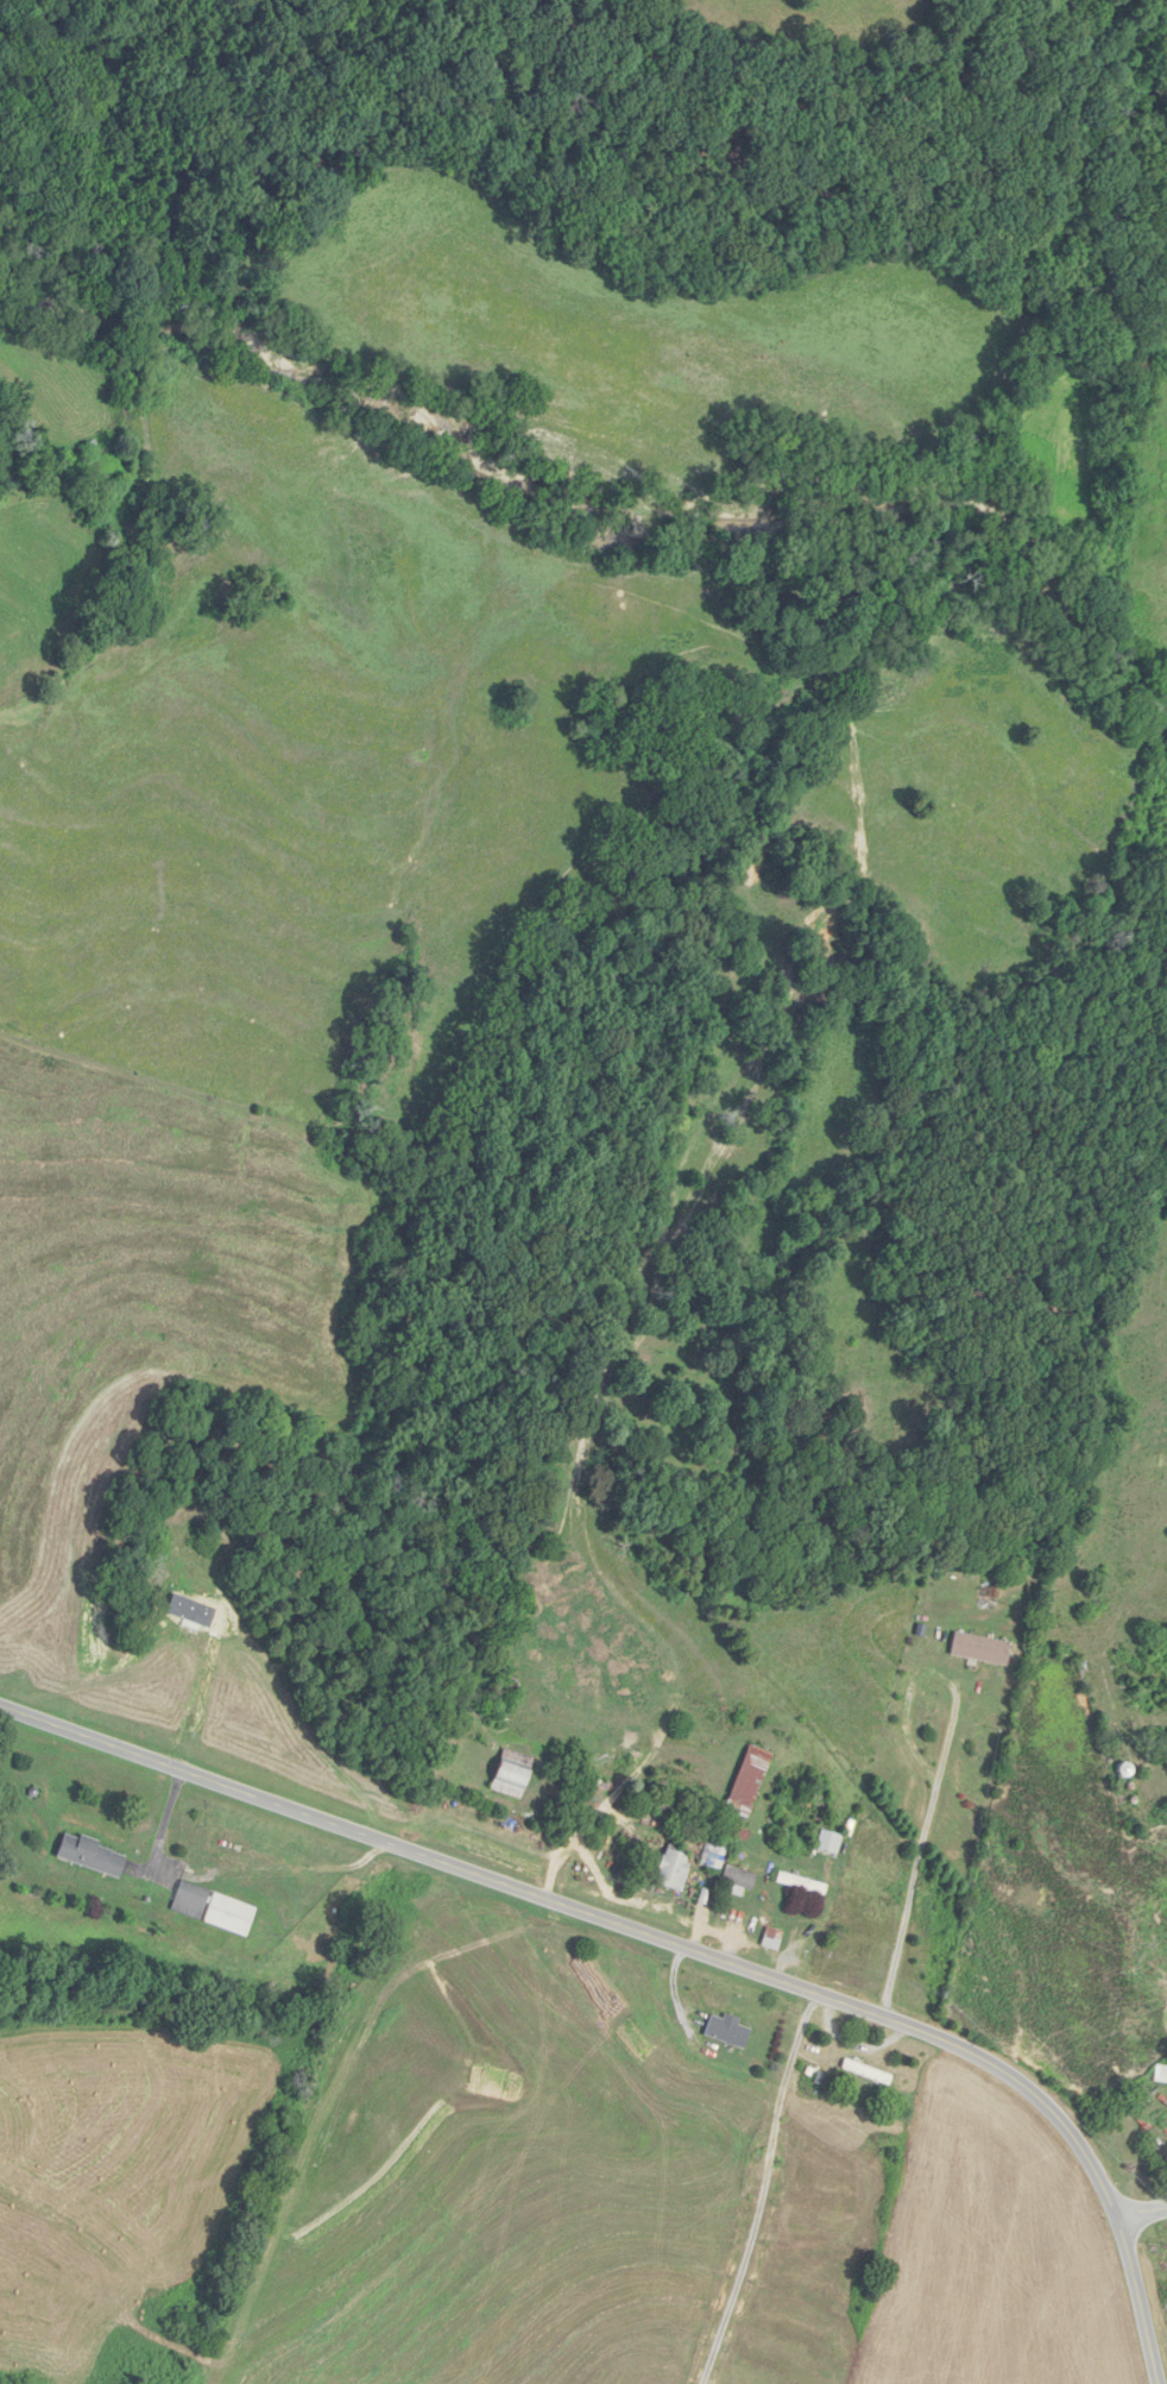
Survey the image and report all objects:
building: (0, 490)
building: (983, 1649)
road: (941, 1772)
building: (516, 1774)
building: (752, 1781)
building: (832, 1842)
building: (94, 1855)
building: (714, 1856)
building: (676, 1868)
building: (742, 1877)
building: (805, 1883)
building: (216, 1910)
building: (772, 1938)
road: (675, 1942)
building: (868, 2072)
building: (1162, 2075)
road: (764, 2189)
road: (1142, 2210)

